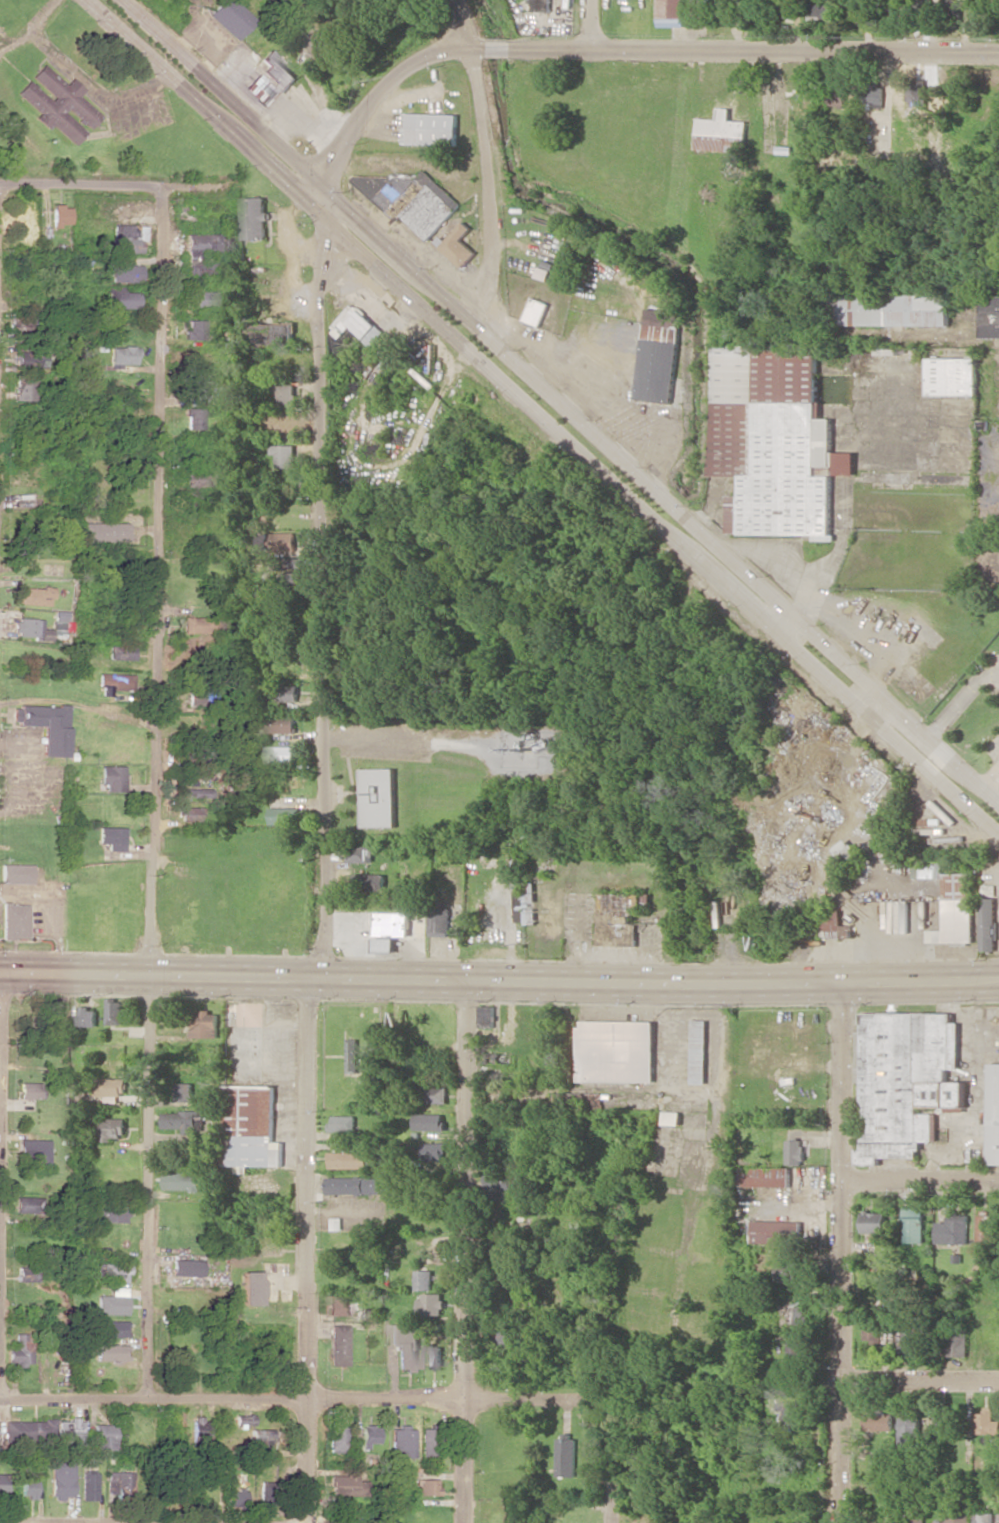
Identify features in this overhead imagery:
building: (542, 5)
building: (724, 7)
building: (785, 8)
building: (816, 8)
building: (854, 9)
building: (670, 13)
building: (230, 17)
road: (593, 24)
road: (32, 28)
road: (624, 49)
road: (310, 68)
building: (277, 71)
road: (94, 90)
building: (257, 90)
building: (917, 92)
building: (873, 94)
road: (228, 95)
building: (58, 104)
road: (208, 108)
building: (431, 128)
building: (721, 132)
building: (770, 146)
road: (487, 159)
traffic signals: (332, 167)
road: (111, 185)
traffic signals: (304, 198)
road: (328, 206)
building: (431, 206)
traffic signals: (351, 212)
building: (59, 214)
building: (254, 217)
building: (22, 218)
building: (21, 237)
building: (126, 237)
traffic signals: (325, 245)
building: (459, 245)
building: (203, 251)
building: (125, 273)
building: (120, 298)
building: (200, 298)
building: (894, 309)
building: (536, 311)
building: (992, 316)
building: (355, 323)
building: (194, 329)
building: (271, 334)
building: (122, 354)
building: (659, 354)
building: (28, 360)
building: (951, 376)
building: (24, 387)
building: (201, 388)
building: (286, 394)
building: (194, 418)
building: (775, 440)
building: (284, 455)
building: (195, 478)
road: (665, 498)
road: (78, 507)
road: (288, 523)
building: (104, 531)
road: (660, 531)
building: (282, 541)
building: (294, 562)
building: (35, 595)
road: (319, 598)
building: (200, 625)
building: (26, 627)
building: (119, 651)
building: (113, 683)
road: (957, 699)
building: (280, 724)
building: (44, 726)
building: (281, 754)
building: (111, 777)
road: (151, 791)
building: (193, 792)
building: (378, 796)
building: (188, 813)
building: (284, 815)
building: (110, 837)
building: (846, 850)
building: (361, 853)
building: (15, 873)
building: (368, 881)
building: (524, 902)
building: (951, 902)
building: (619, 910)
building: (14, 921)
building: (439, 921)
building: (392, 923)
building: (988, 923)
building: (834, 928)
building: (383, 945)
road: (499, 980)
building: (115, 1011)
building: (88, 1016)
building: (485, 1016)
building: (206, 1023)
building: (617, 1050)
building: (700, 1051)
building: (353, 1056)
building: (905, 1080)
building: (112, 1086)
building: (29, 1090)
building: (186, 1091)
building: (433, 1094)
building: (558, 1097)
building: (594, 1103)
building: (993, 1113)
building: (674, 1117)
building: (183, 1120)
building: (428, 1121)
building: (343, 1123)
building: (252, 1126)
building: (109, 1128)
building: (434, 1150)
building: (33, 1151)
building: (795, 1151)
road: (722, 1153)
building: (349, 1159)
building: (766, 1176)
road: (923, 1179)
building: (182, 1180)
building: (497, 1183)
building: (357, 1185)
building: (28, 1204)
building: (112, 1213)
building: (874, 1221)
building: (914, 1224)
building: (953, 1229)
building: (778, 1231)
building: (986, 1231)
road: (306, 1250)
road: (464, 1251)
road: (845, 1252)
building: (186, 1267)
building: (786, 1269)
building: (112, 1272)
building: (26, 1273)
building: (423, 1279)
building: (251, 1288)
building: (113, 1302)
building: (430, 1303)
building: (338, 1305)
building: (793, 1313)
building: (372, 1314)
building: (110, 1328)
building: (877, 1333)
building: (502, 1339)
building: (911, 1340)
building: (957, 1340)
building: (337, 1344)
building: (405, 1344)
building: (795, 1349)
building: (21, 1350)
building: (109, 1352)
building: (433, 1356)
road: (920, 1377)
road: (304, 1398)
building: (793, 1407)
building: (879, 1419)
building: (944, 1423)
building: (987, 1424)
building: (232, 1426)
building: (198, 1427)
building: (30, 1429)
building: (909, 1430)
building: (69, 1431)
building: (367, 1435)
building: (103, 1436)
building: (260, 1438)
building: (335, 1439)
building: (401, 1441)
building: (426, 1442)
building: (565, 1457)
road: (612, 1461)
building: (61, 1480)
building: (117, 1482)
building: (346, 1484)
building: (3, 1485)
building: (29, 1486)
building: (89, 1486)
building: (425, 1486)
building: (264, 1493)
building: (234, 1498)
building: (348, 1509)
building: (916, 1512)
building: (984, 1517)

